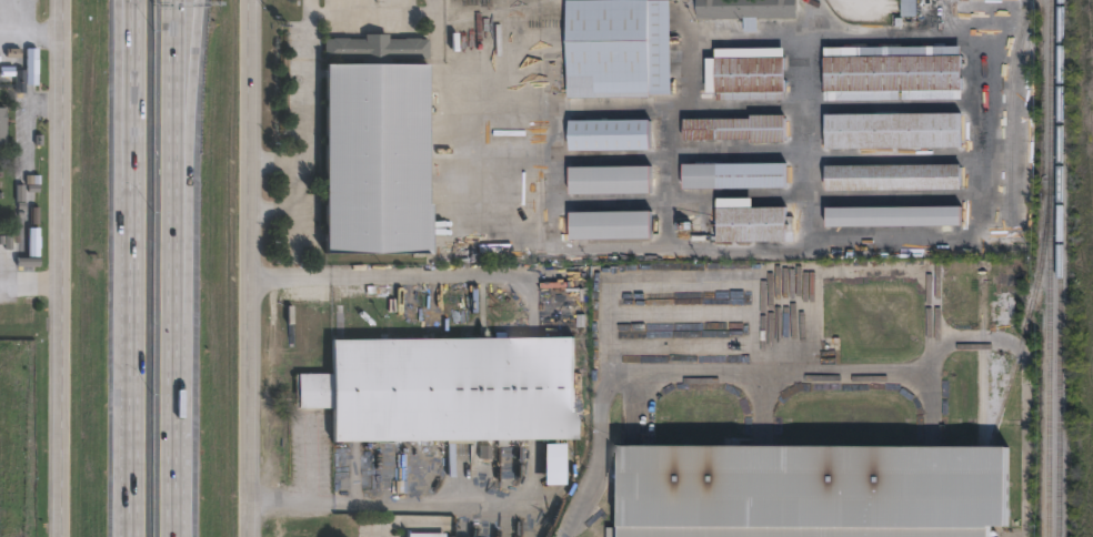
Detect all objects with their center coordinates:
building: (909, 7)
building: (749, 10)
road: (378, 18)
road: (30, 29)
road: (127, 30)
road: (129, 30)
building: (619, 48)
building: (8, 67)
building: (748, 73)
building: (893, 73)
road: (810, 119)
building: (3, 126)
road: (174, 126)
road: (187, 126)
road: (304, 126)
building: (738, 128)
building: (894, 131)
building: (610, 134)
building: (377, 146)
road: (27, 156)
building: (735, 175)
building: (894, 178)
building: (611, 180)
building: (896, 216)
building: (750, 221)
building: (611, 225)
road: (129, 244)
road: (60, 268)
road: (248, 268)
railway: (1049, 268)
railway: (1059, 268)
road: (393, 276)
building: (1006, 282)
road: (30, 287)
road: (174, 341)
road: (613, 347)
building: (451, 392)
road: (308, 464)
road: (129, 483)
road: (176, 483)
building: (815, 489)
road: (278, 501)
road: (424, 503)
road: (380, 533)
building: (428, 535)

